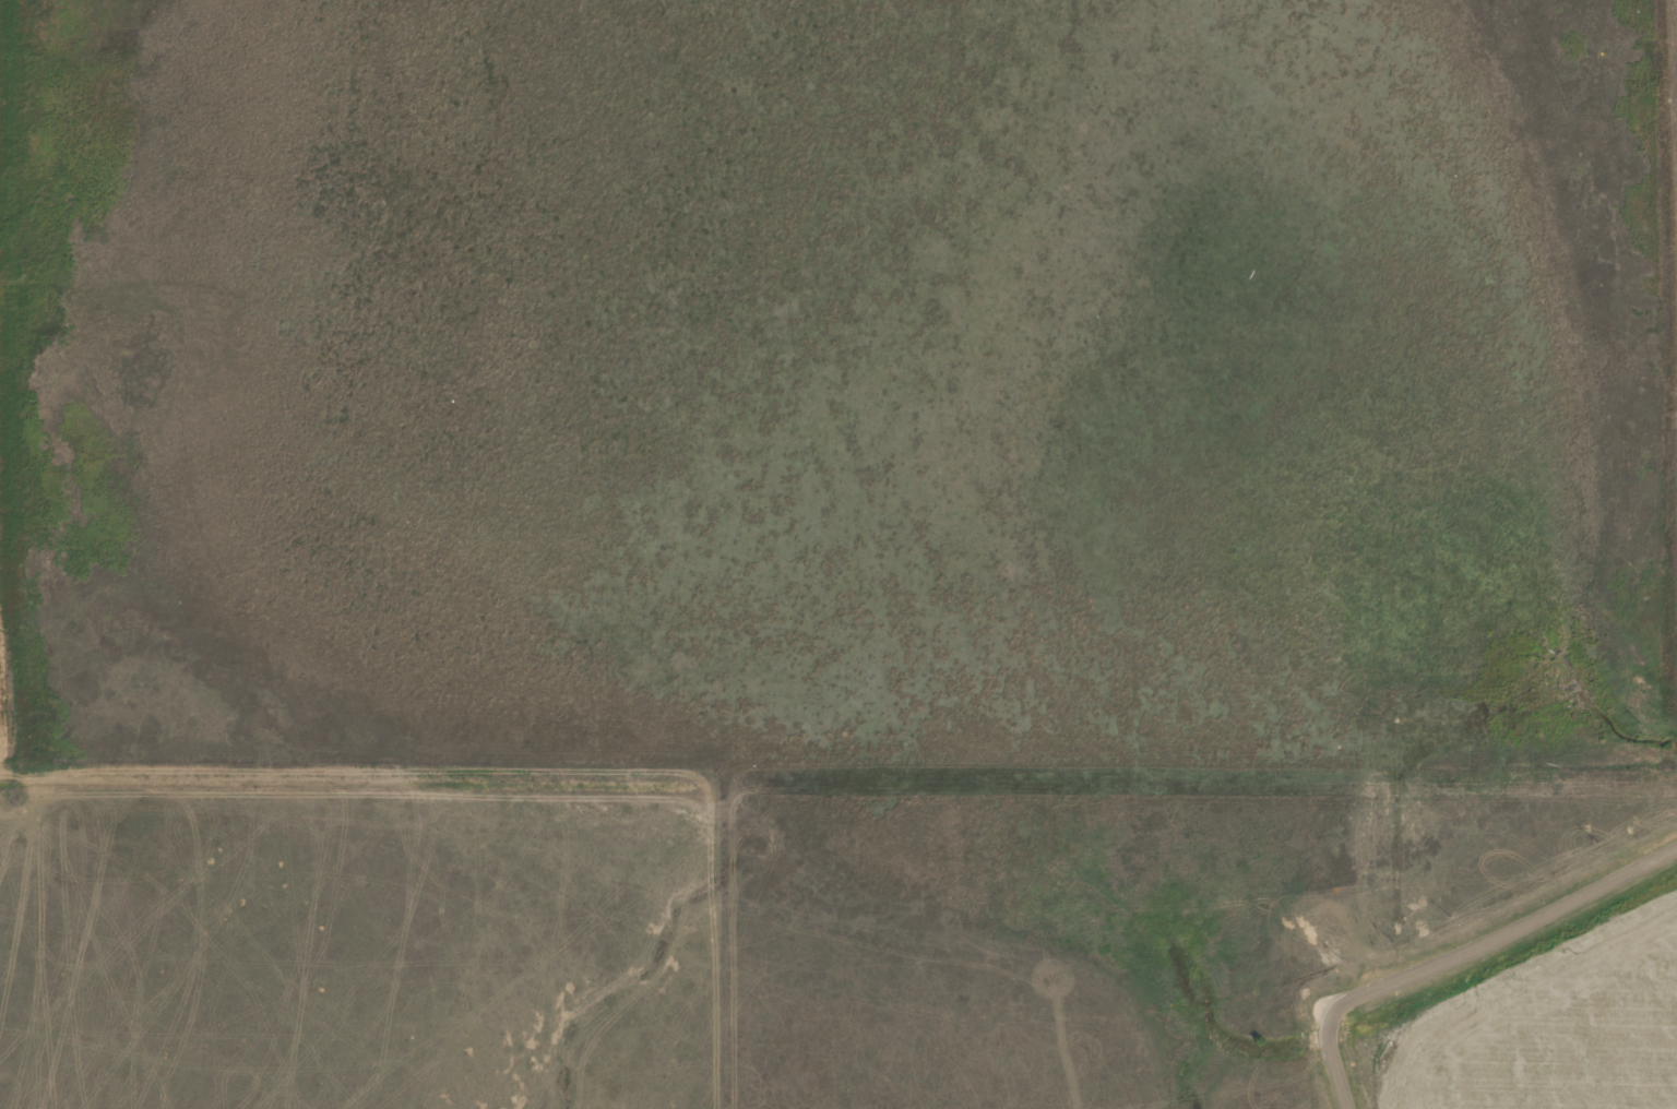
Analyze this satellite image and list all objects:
road: (1459, 954)

